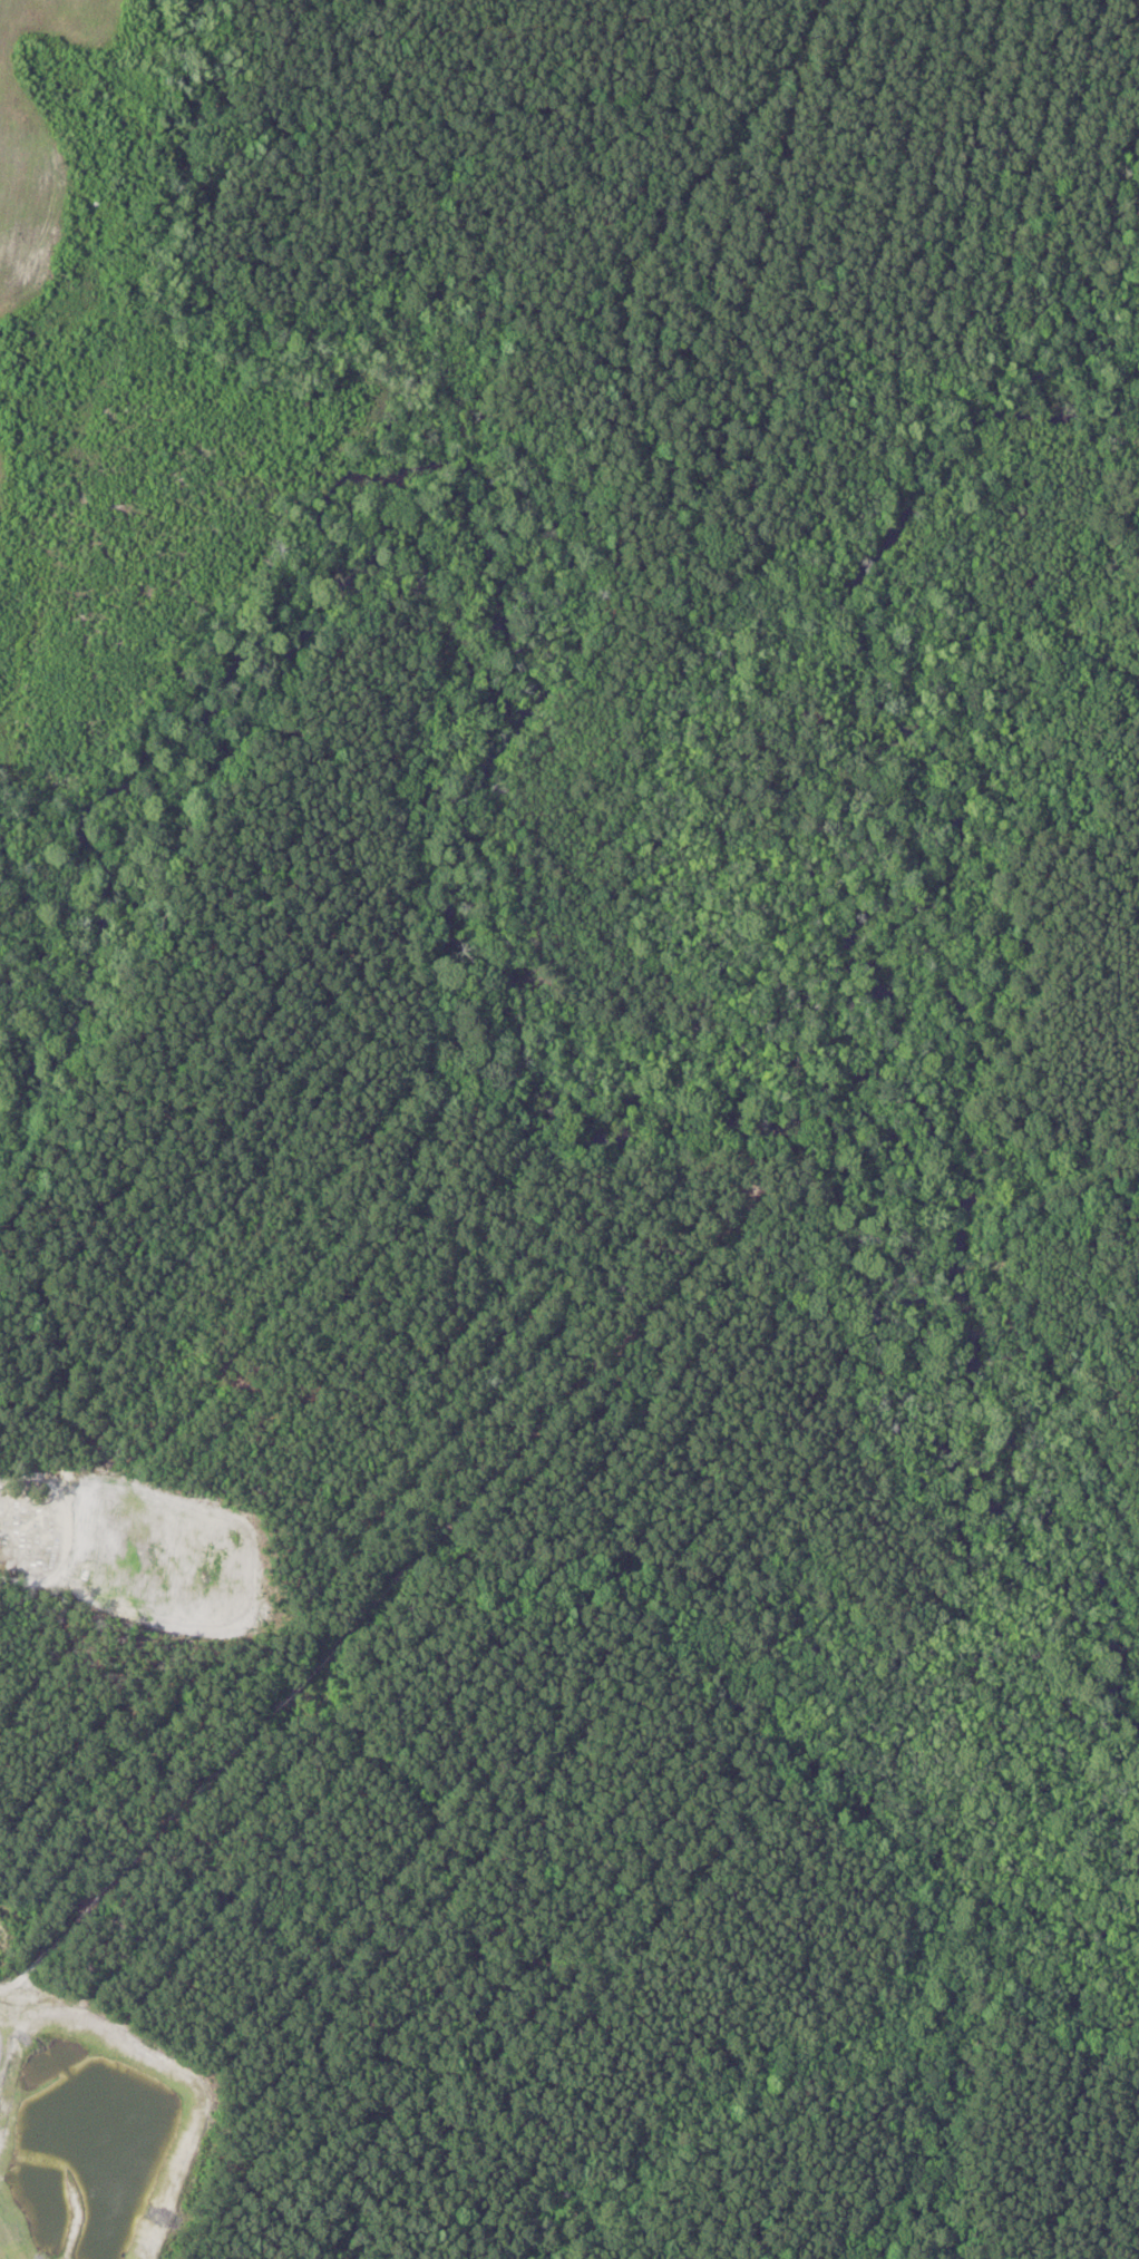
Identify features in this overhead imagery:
wastewater plant: (89, 2135)

